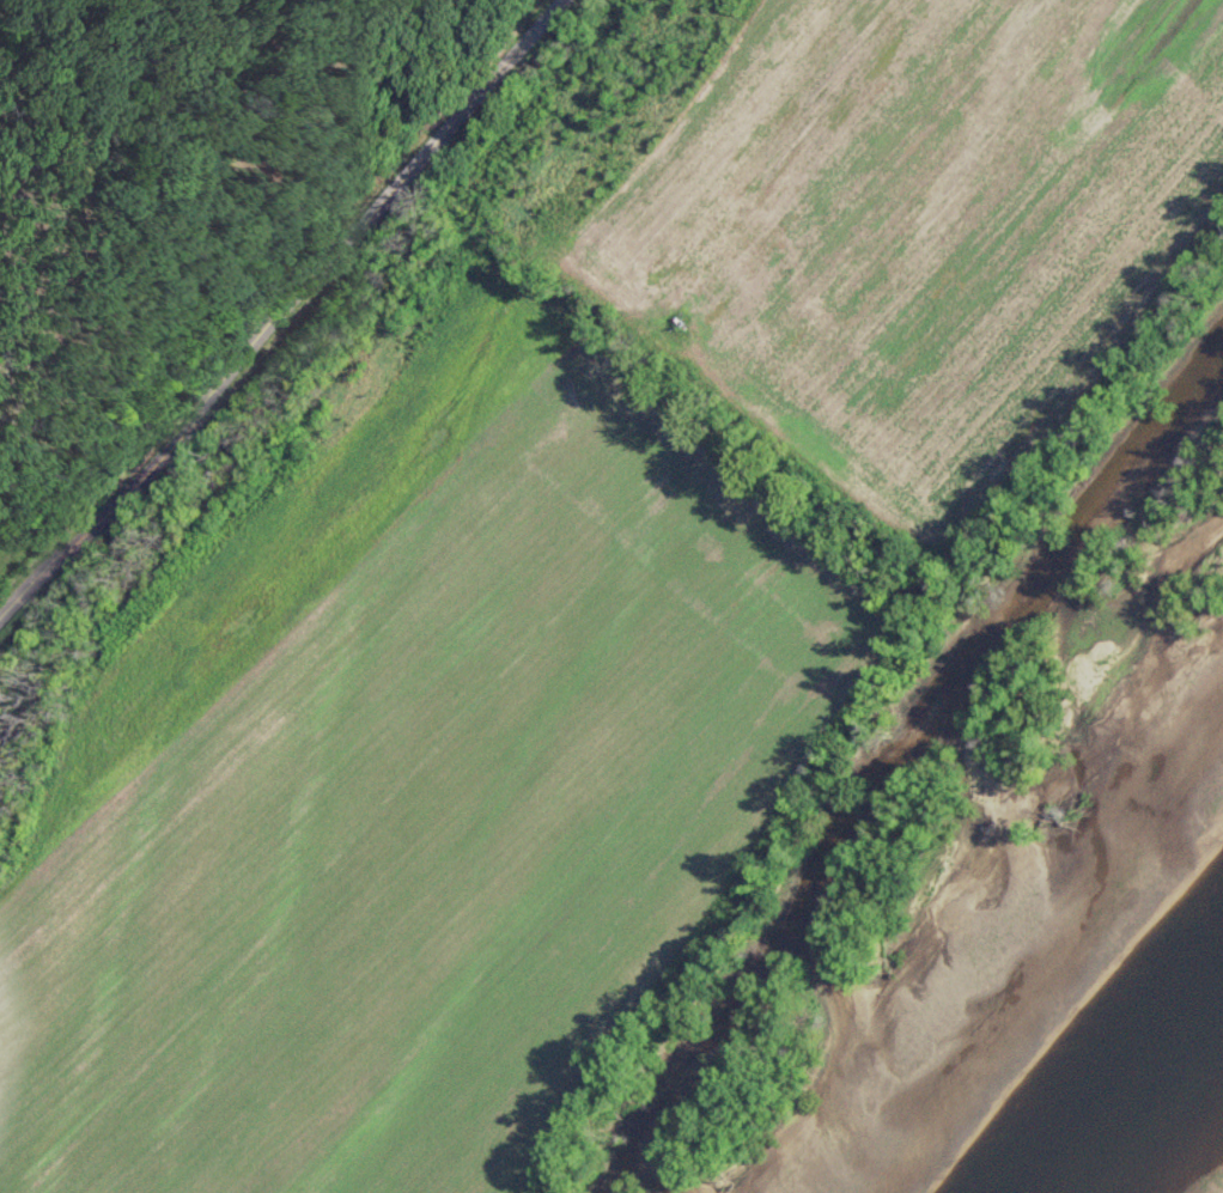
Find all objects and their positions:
road: (278, 318)
crop: (413, 780)
river: (1194, 1155)

